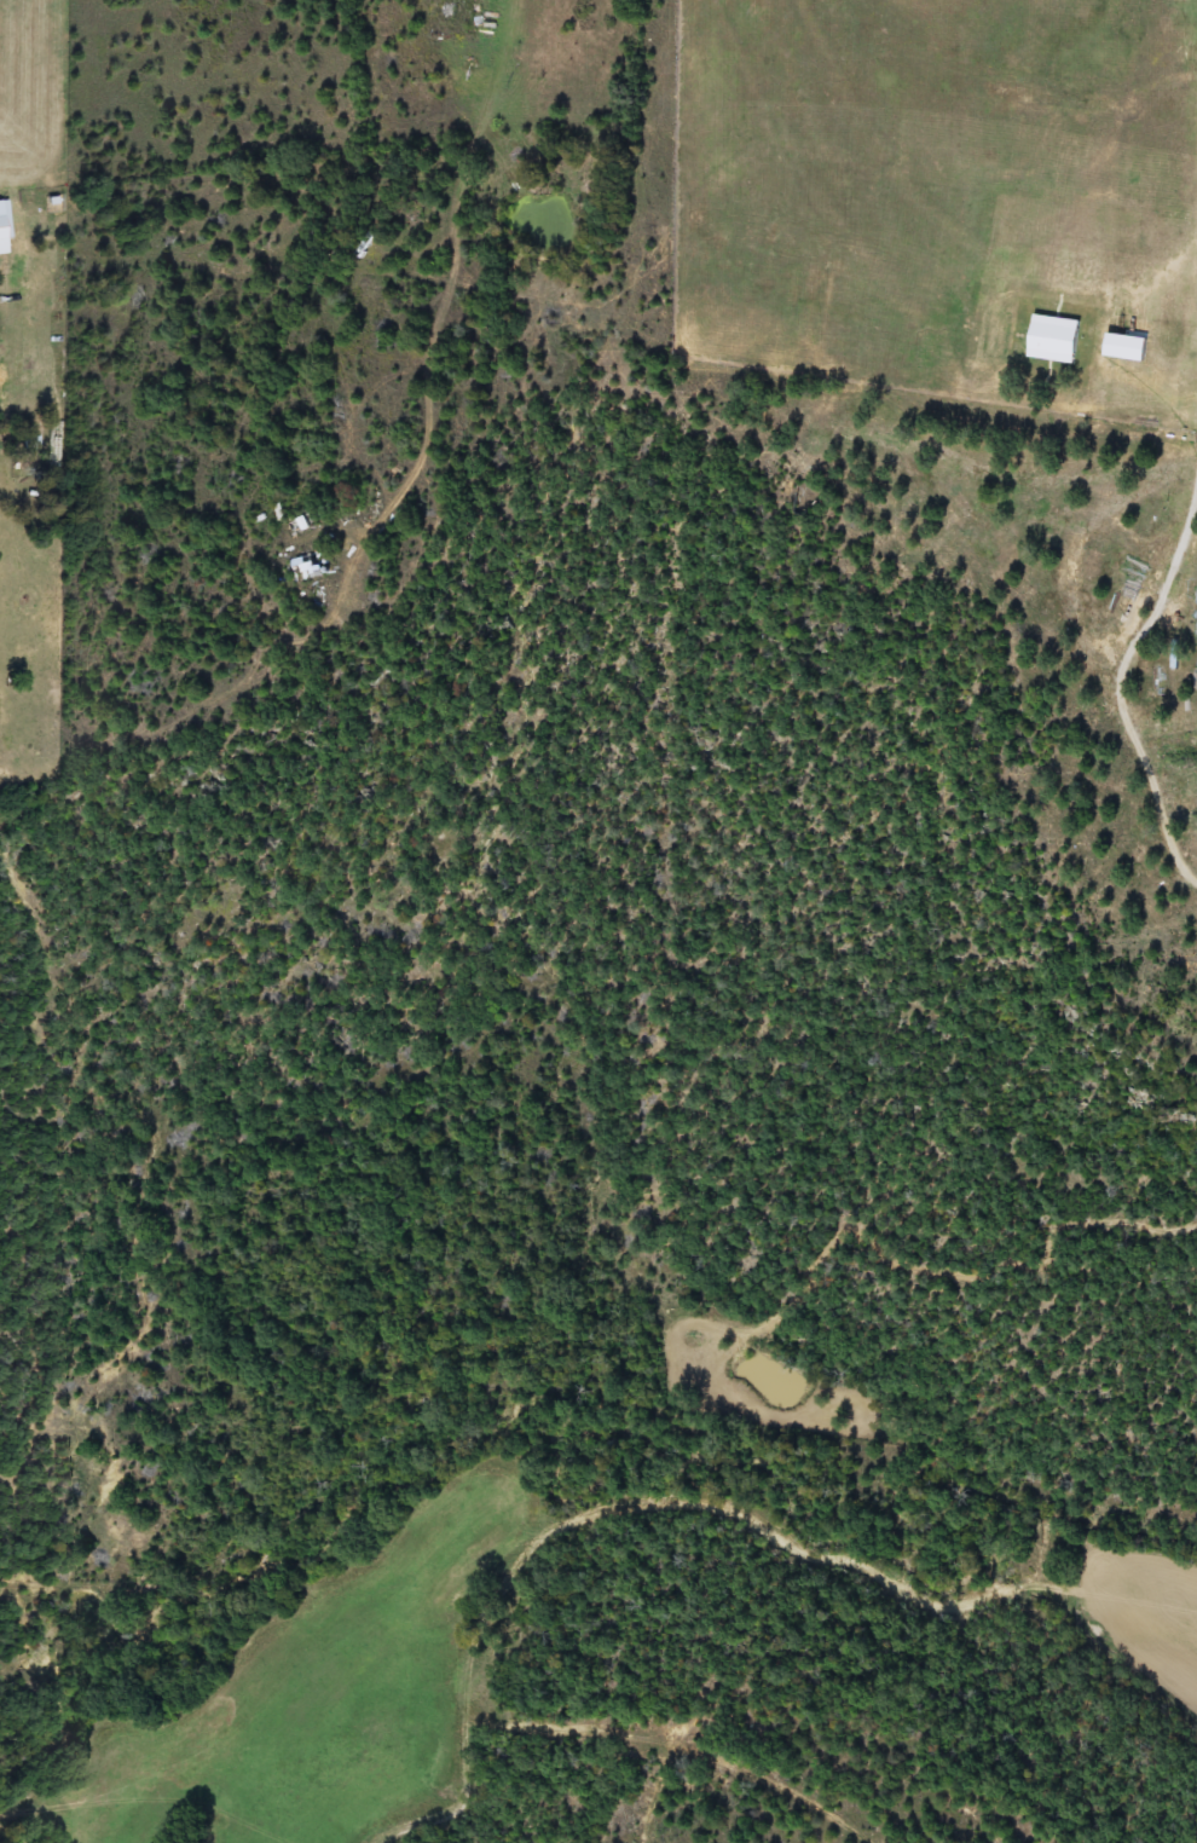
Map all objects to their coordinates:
building: (2, 236)
building: (28, 443)

